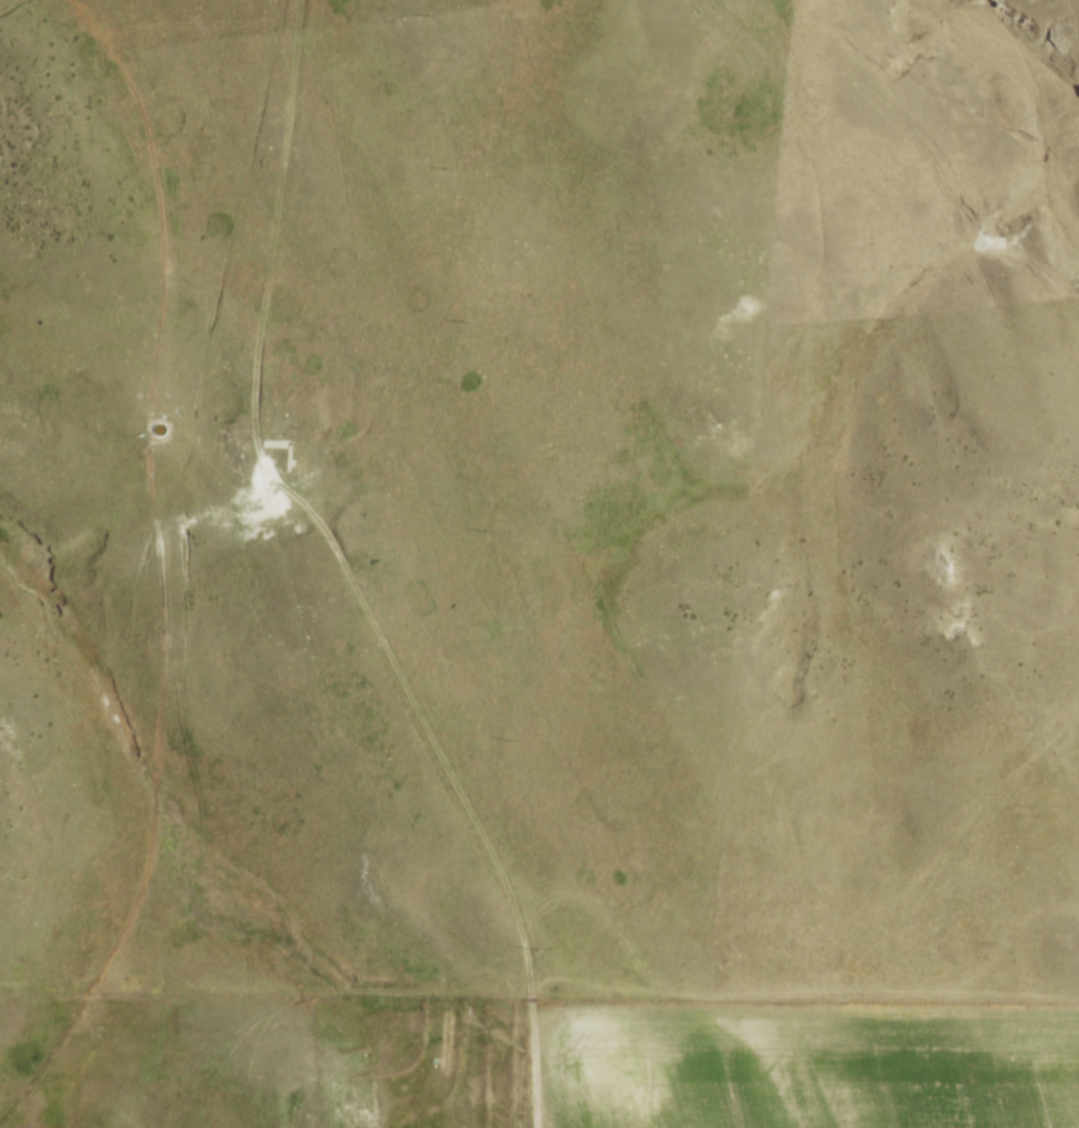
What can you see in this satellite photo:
crop: (808, 1064)

